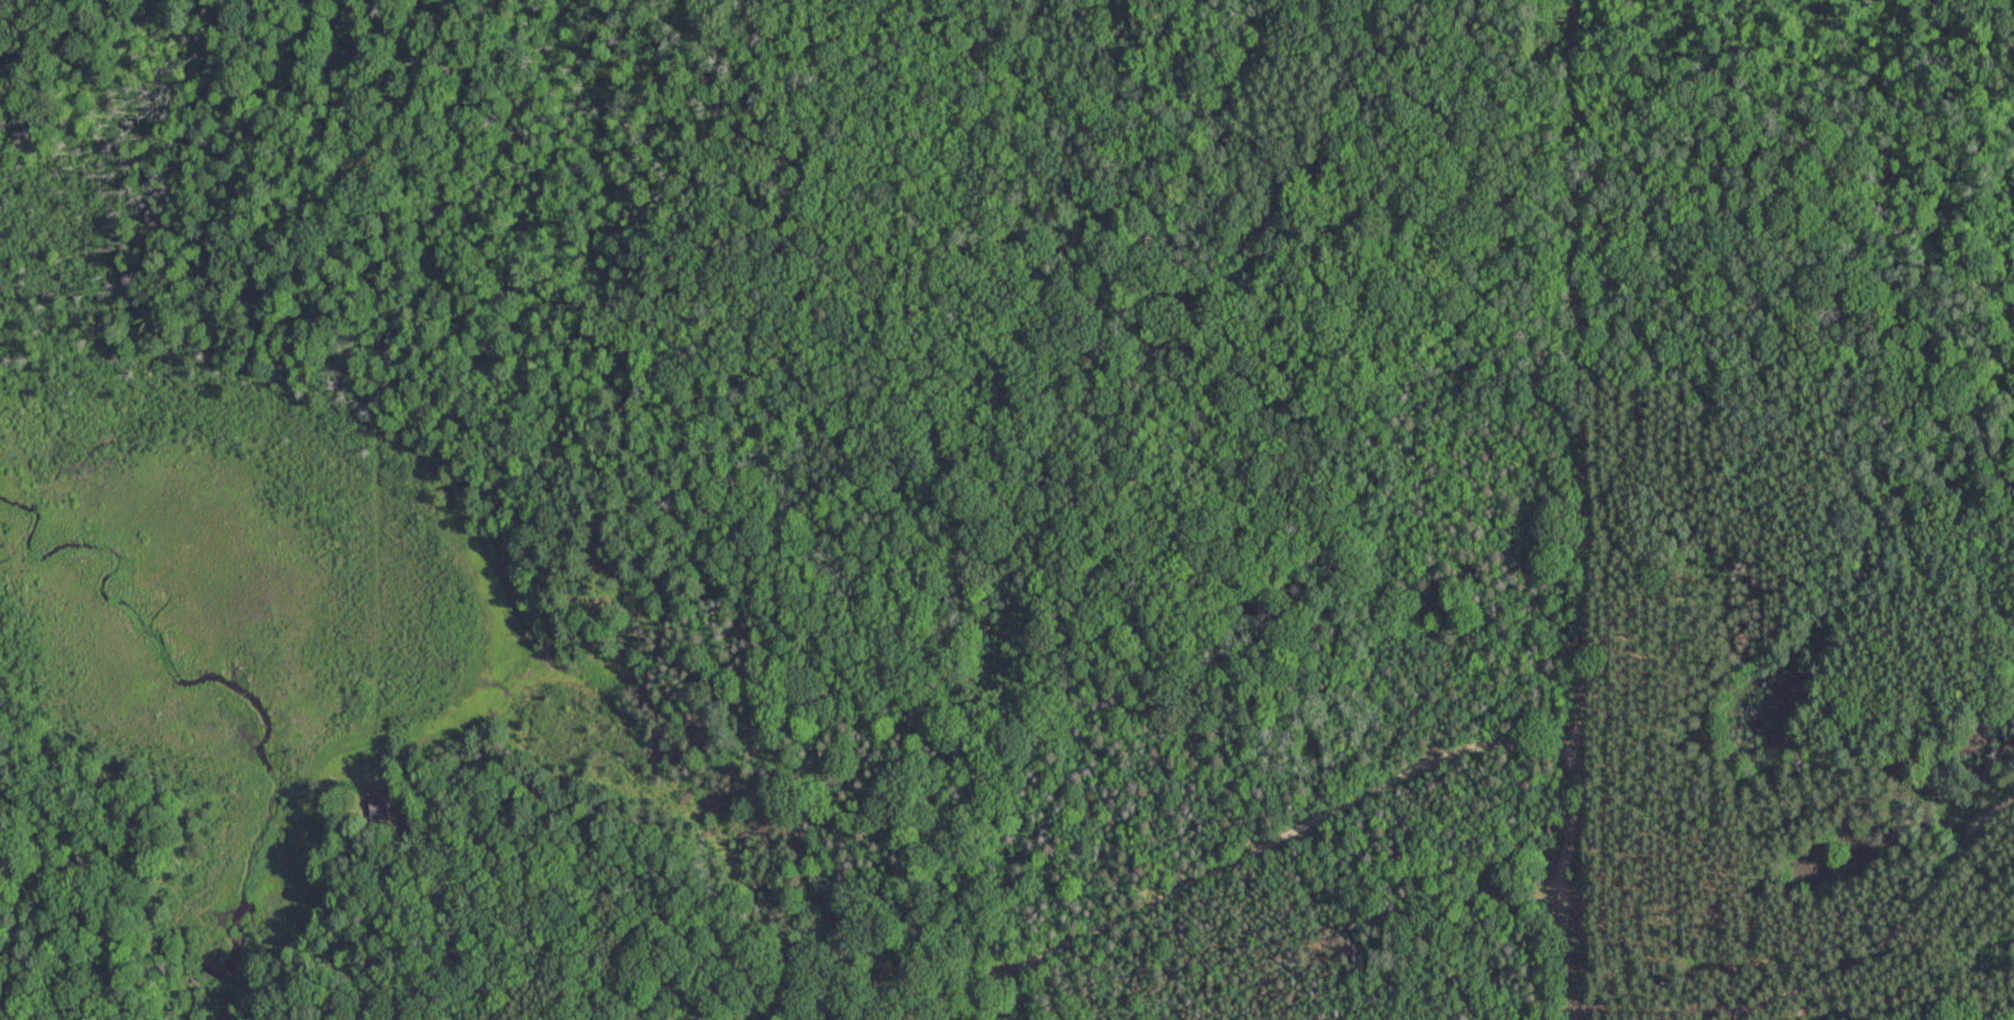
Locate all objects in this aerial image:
road: (788, 175)
road: (1579, 510)
road: (1789, 831)

